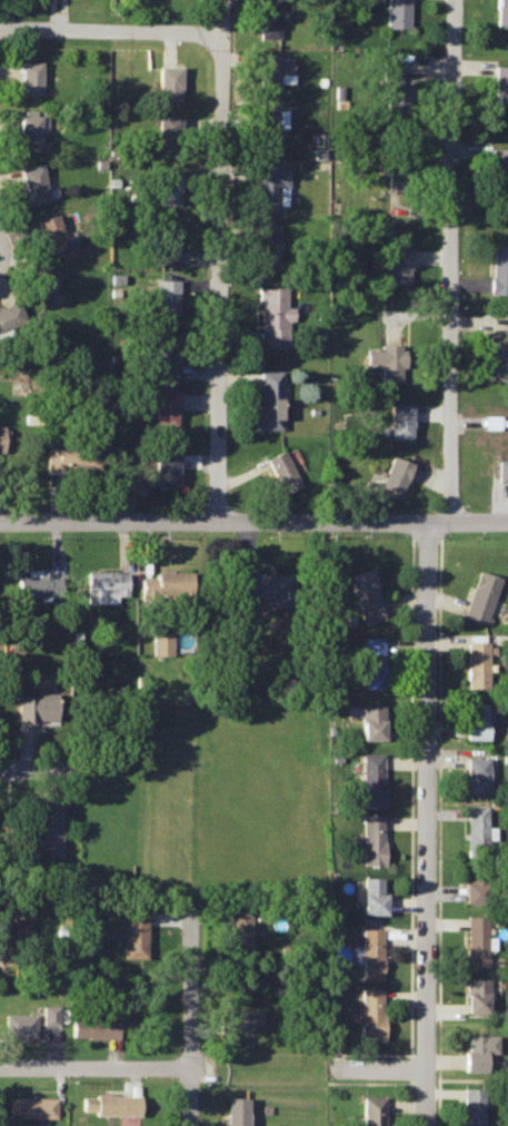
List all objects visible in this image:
building: (501, 11)
building: (396, 12)
building: (268, 18)
road: (111, 32)
building: (270, 68)
building: (30, 75)
building: (168, 80)
building: (500, 83)
building: (395, 88)
building: (30, 129)
building: (168, 129)
building: (270, 129)
building: (318, 145)
building: (499, 168)
building: (397, 170)
building: (33, 181)
building: (168, 185)
building: (271, 185)
building: (51, 230)
building: (169, 241)
building: (267, 241)
road: (220, 259)
road: (450, 261)
building: (394, 266)
building: (498, 268)
building: (44, 283)
building: (165, 295)
building: (272, 314)
building: (9, 317)
building: (162, 350)
building: (497, 356)
building: (387, 359)
building: (268, 398)
building: (166, 405)
building: (400, 418)
building: (490, 421)
building: (2, 435)
building: (73, 455)
building: (167, 467)
building: (280, 470)
building: (501, 470)
building: (394, 473)
road: (253, 520)
road: (424, 535)
building: (37, 583)
building: (106, 584)
building: (166, 584)
building: (261, 586)
building: (365, 594)
building: (480, 596)
building: (160, 643)
building: (477, 660)
building: (371, 661)
building: (37, 705)
building: (367, 719)
building: (476, 720)
road: (29, 768)
building: (474, 773)
building: (369, 779)
road: (408, 794)
road: (424, 824)
building: (42, 830)
building: (475, 830)
road: (436, 831)
building: (368, 839)
building: (474, 885)
building: (368, 895)
building: (13, 928)
building: (236, 929)
building: (133, 934)
building: (474, 939)
building: (367, 954)
building: (474, 995)
building: (367, 1014)
building: (50, 1015)
road: (189, 1017)
building: (237, 1018)
building: (19, 1024)
building: (94, 1027)
building: (333, 1043)
building: (475, 1050)
road: (369, 1054)
road: (333, 1060)
road: (103, 1066)
road: (406, 1068)
road: (375, 1069)
road: (363, 1083)
building: (135, 1088)
building: (112, 1103)
road: (405, 1104)
building: (31, 1106)
building: (469, 1106)
building: (236, 1110)
building: (368, 1110)

